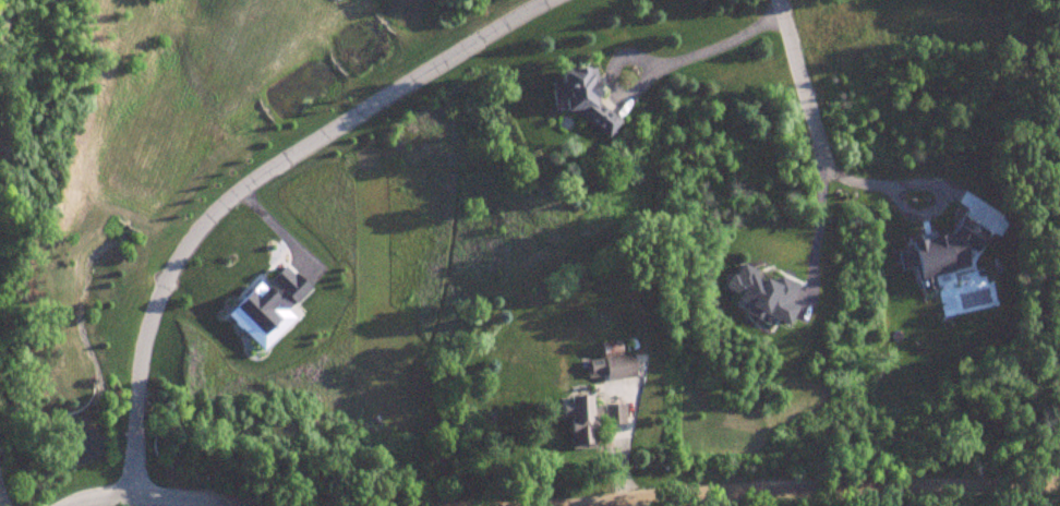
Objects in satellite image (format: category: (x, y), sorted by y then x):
road: (658, 65)
building: (588, 98)
road: (818, 135)
road: (252, 185)
road: (908, 212)
building: (615, 364)
building: (591, 418)
road: (680, 494)
road: (143, 499)
road: (1, 502)

